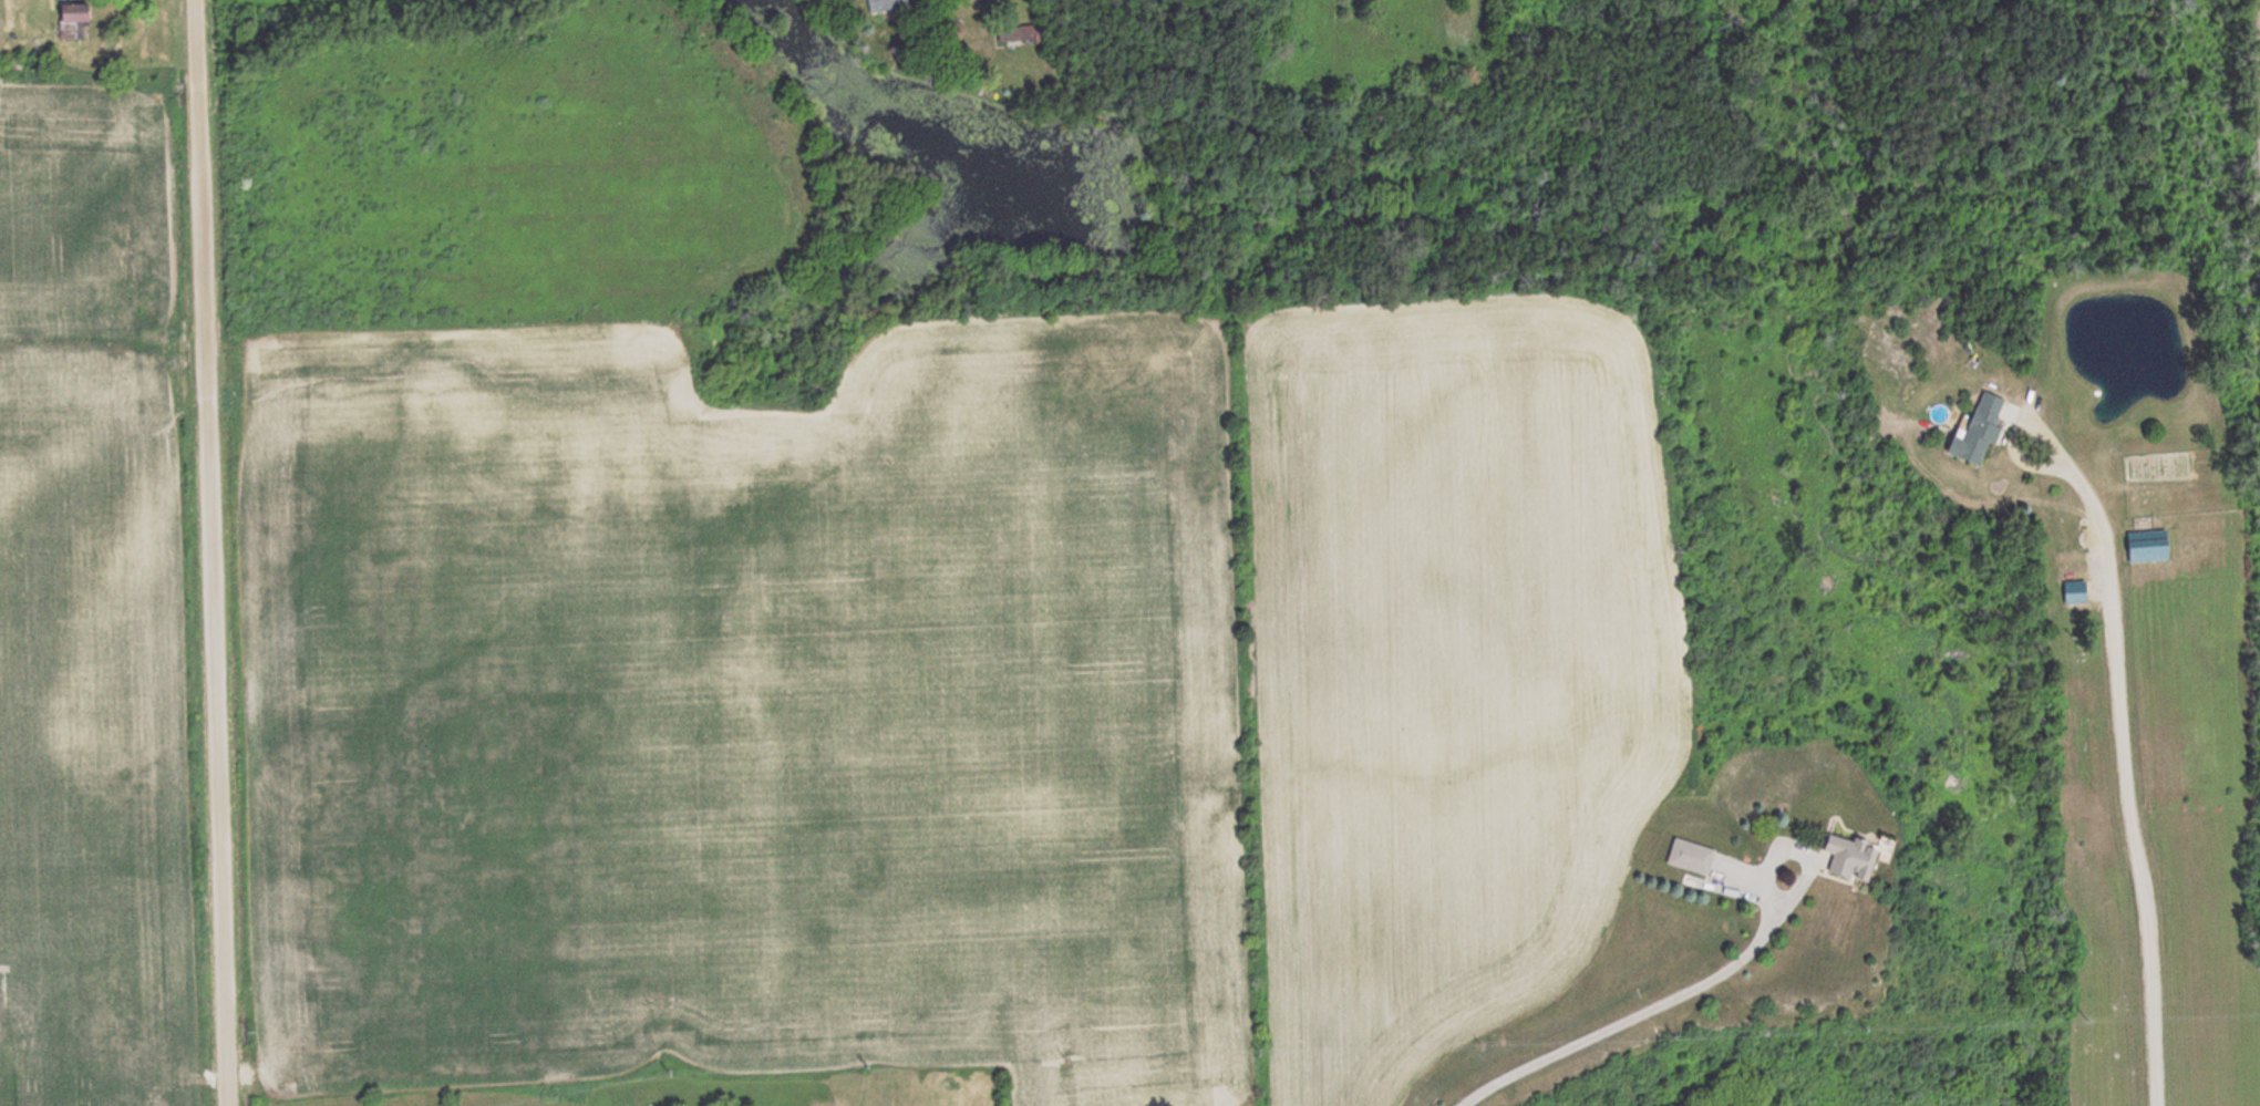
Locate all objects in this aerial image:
building: (889, 4)
building: (81, 13)
building: (1025, 35)
building: (1982, 431)
building: (2151, 546)
road: (202, 552)
building: (2078, 593)
building: (2093, 638)
building: (1696, 857)
building: (1861, 859)

